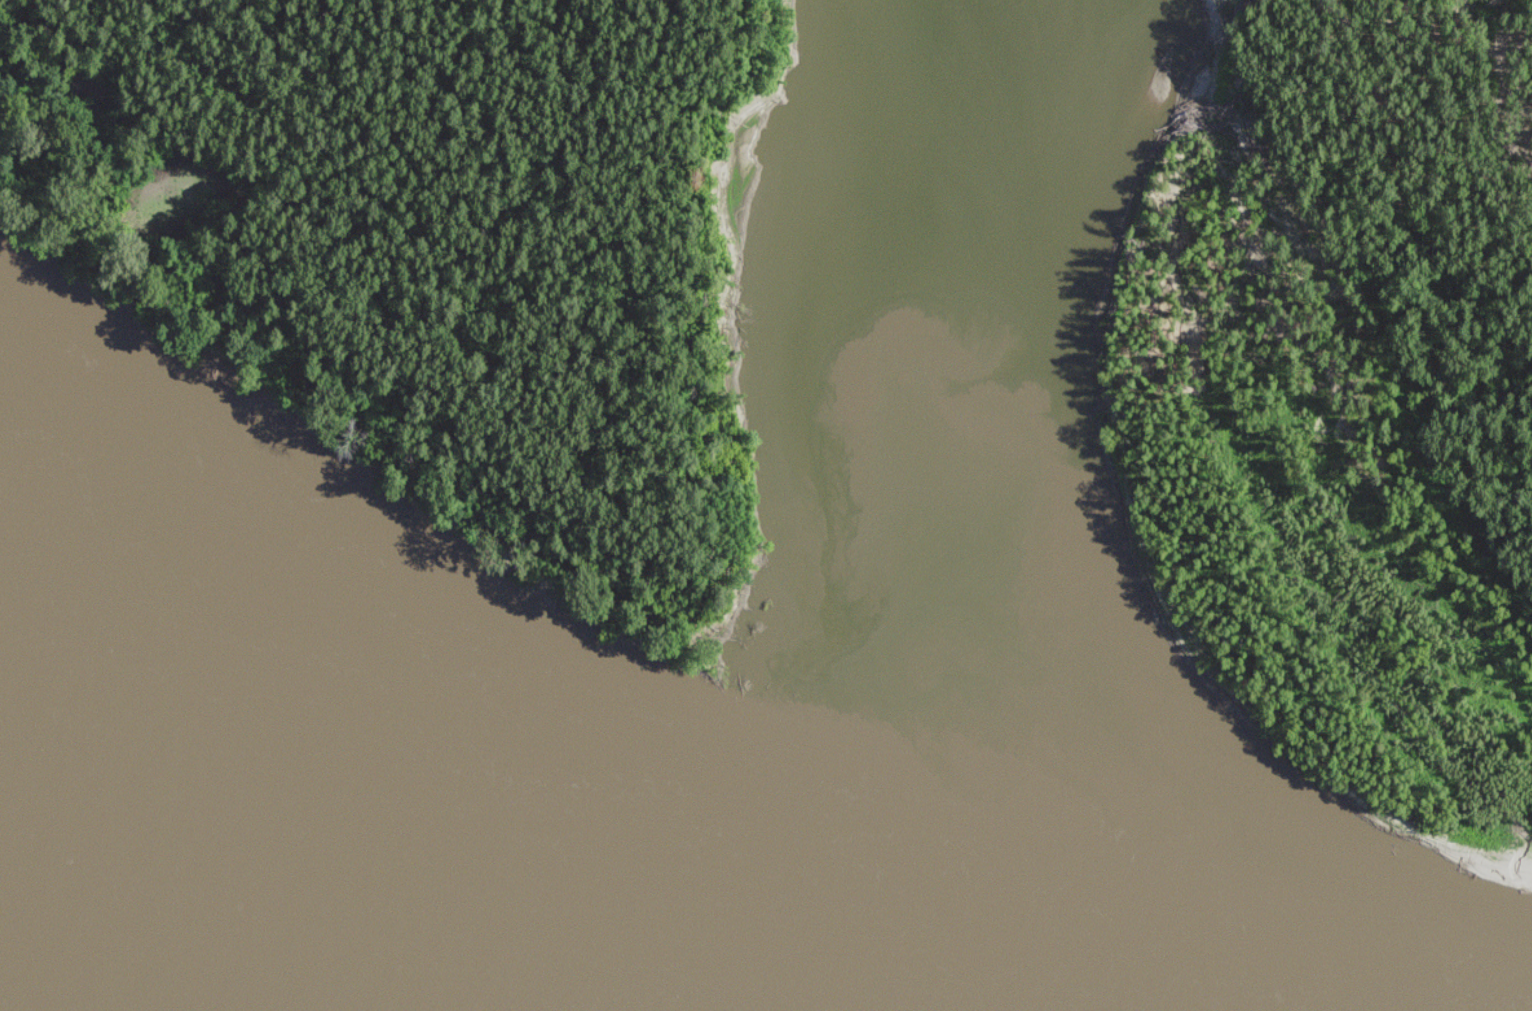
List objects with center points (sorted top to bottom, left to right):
river: (1043, 603)
river: (386, 866)

